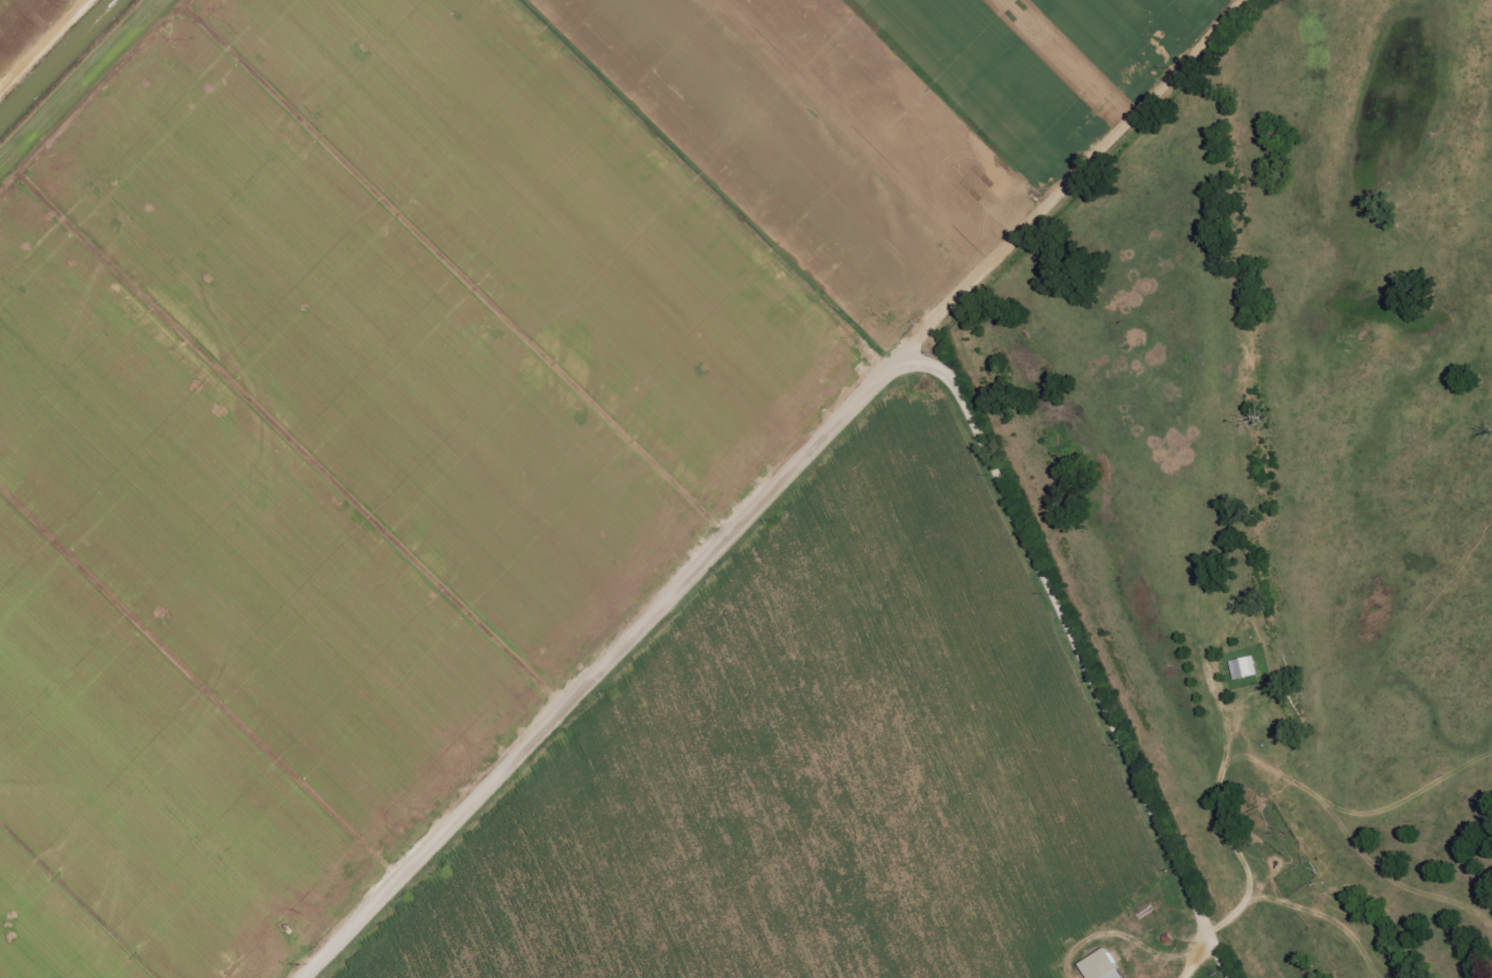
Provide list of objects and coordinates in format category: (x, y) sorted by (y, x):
road: (45, 47)
road: (1078, 175)
road: (895, 406)
road: (947, 412)
road: (929, 467)
road: (641, 722)
road: (1102, 726)

